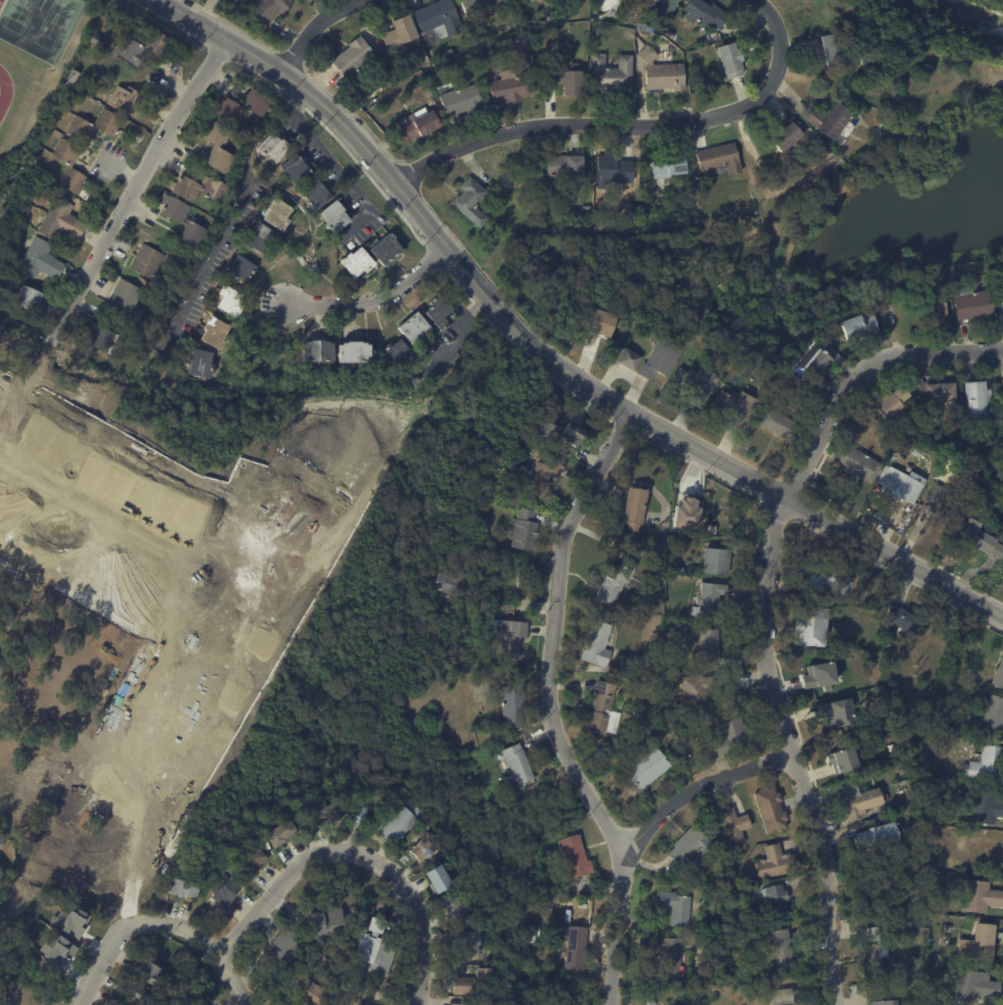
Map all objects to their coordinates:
track: (1, 2)
building: (478, 7)
building: (668, 7)
building: (269, 10)
road: (179, 13)
building: (705, 14)
park: (19, 15)
building: (626, 19)
building: (438, 22)
park: (52, 25)
building: (644, 28)
road: (320, 31)
building: (401, 35)
building: (93, 38)
building: (524, 41)
building: (143, 47)
building: (835, 50)
building: (89, 52)
building: (682, 58)
building: (355, 59)
building: (435, 59)
building: (731, 62)
building: (662, 74)
building: (611, 75)
building: (71, 76)
building: (567, 83)
building: (512, 86)
track: (4, 91)
building: (123, 99)
building: (460, 101)
building: (241, 107)
road: (742, 108)
building: (832, 124)
building: (417, 126)
road: (502, 138)
building: (787, 139)
building: (215, 145)
building: (273, 147)
building: (66, 152)
building: (720, 159)
building: (668, 165)
building: (565, 167)
road: (336, 168)
building: (614, 169)
building: (294, 170)
building: (780, 175)
building: (197, 188)
building: (313, 194)
building: (470, 201)
road: (238, 212)
building: (276, 213)
building: (333, 217)
building: (60, 220)
building: (181, 221)
building: (260, 237)
road: (110, 238)
building: (385, 249)
building: (39, 259)
building: (148, 261)
building: (358, 263)
building: (240, 268)
building: (536, 268)
road: (476, 283)
building: (125, 297)
road: (376, 297)
building: (27, 299)
building: (1002, 299)
building: (227, 300)
building: (972, 304)
building: (931, 309)
building: (438, 311)
building: (600, 322)
building: (860, 326)
building: (413, 328)
building: (213, 333)
building: (100, 338)
building: (593, 341)
building: (318, 351)
building: (352, 352)
building: (394, 352)
building: (630, 359)
building: (660, 360)
building: (199, 363)
building: (817, 365)
building: (730, 375)
building: (756, 375)
building: (1002, 382)
building: (695, 386)
building: (939, 392)
building: (976, 400)
building: (892, 404)
building: (737, 408)
building: (780, 425)
building: (546, 430)
building: (572, 436)
building: (916, 452)
building: (857, 463)
building: (541, 477)
building: (903, 485)
building: (945, 503)
building: (635, 508)
road: (92, 512)
building: (687, 514)
building: (525, 531)
building: (979, 538)
building: (632, 554)
road: (894, 558)
building: (718, 560)
building: (680, 571)
building: (828, 579)
building: (524, 581)
building: (614, 583)
building: (450, 585)
building: (708, 601)
road: (769, 609)
building: (901, 621)
building: (811, 627)
building: (509, 640)
building: (596, 642)
building: (709, 648)
building: (653, 655)
building: (639, 663)
building: (654, 669)
building: (818, 674)
building: (999, 677)
building: (694, 698)
building: (512, 706)
building: (603, 708)
building: (994, 713)
road: (549, 714)
building: (836, 718)
building: (662, 720)
building: (730, 738)
building: (842, 760)
building: (680, 763)
building: (517, 764)
building: (988, 766)
building: (646, 768)
building: (903, 772)
road: (701, 786)
building: (860, 802)
building: (985, 808)
building: (771, 809)
building: (358, 815)
building: (321, 819)
building: (399, 823)
building: (734, 825)
building: (279, 836)
building: (1, 840)
building: (878, 840)
building: (917, 843)
building: (423, 846)
building: (691, 846)
building: (979, 852)
building: (573, 858)
building: (920, 860)
building: (775, 861)
building: (251, 865)
building: (0, 876)
building: (438, 882)
road: (278, 887)
building: (182, 890)
building: (224, 895)
building: (979, 898)
building: (775, 900)
building: (676, 907)
building: (455, 913)
road: (419, 916)
building: (70, 922)
building: (327, 927)
building: (375, 927)
building: (948, 929)
building: (902, 933)
building: (945, 942)
building: (469, 946)
building: (575, 946)
building: (978, 946)
building: (779, 948)
road: (205, 949)
building: (281, 952)
road: (103, 955)
building: (873, 955)
building: (375, 957)
building: (669, 958)
building: (149, 975)
building: (474, 983)
building: (975, 988)
building: (302, 990)
building: (799, 994)
building: (138, 996)
building: (781, 996)
building: (480, 1003)
building: (651, 1003)
building: (883, 1003)

